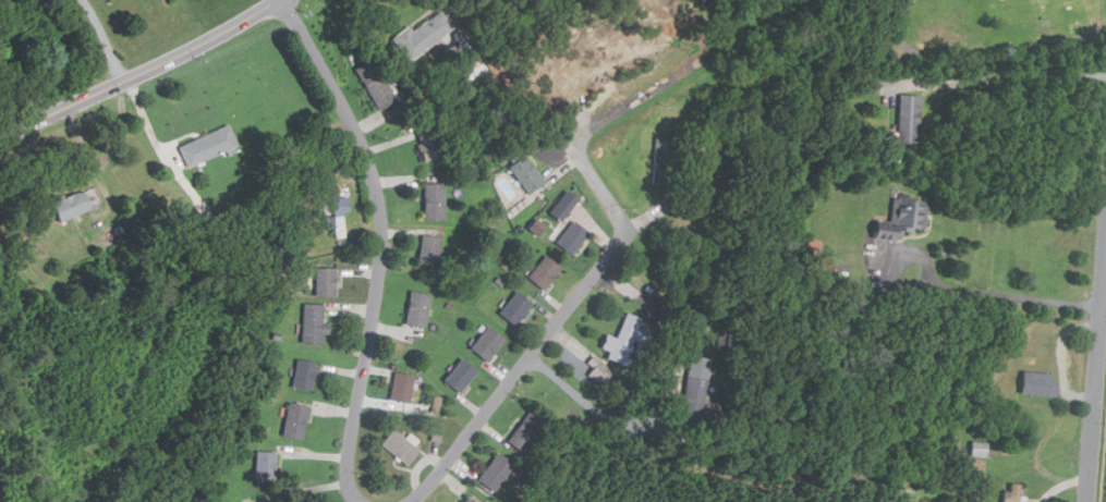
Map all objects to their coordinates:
park: (993, 33)
building: (423, 35)
road: (106, 39)
road: (981, 50)
road: (142, 73)
road: (1002, 78)
building: (376, 84)
building: (908, 119)
building: (428, 140)
building: (210, 145)
building: (664, 161)
building: (526, 174)
building: (434, 201)
building: (566, 201)
building: (74, 205)
building: (907, 213)
building: (340, 215)
building: (536, 225)
building: (572, 237)
road: (386, 241)
building: (811, 245)
building: (429, 249)
building: (544, 271)
building: (326, 282)
road: (965, 291)
building: (417, 308)
building: (515, 308)
building: (314, 323)
road: (556, 326)
building: (624, 340)
building: (486, 342)
building: (599, 371)
building: (305, 374)
building: (460, 375)
road: (1095, 375)
building: (1037, 383)
building: (403, 388)
building: (695, 389)
building: (436, 404)
road: (590, 405)
building: (297, 420)
building: (526, 432)
building: (400, 446)
building: (979, 449)
building: (267, 465)
building: (496, 472)
road: (1105, 480)
building: (1013, 493)
building: (467, 500)

